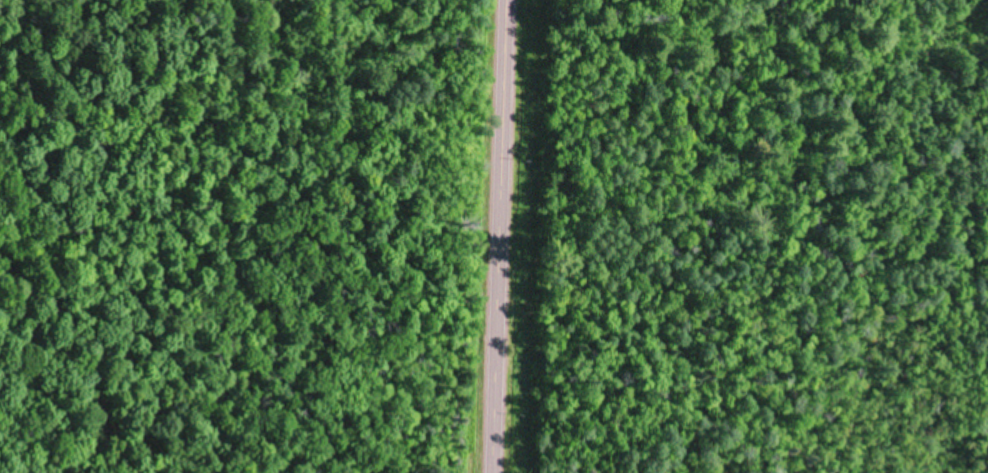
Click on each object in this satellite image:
road: (501, 236)

